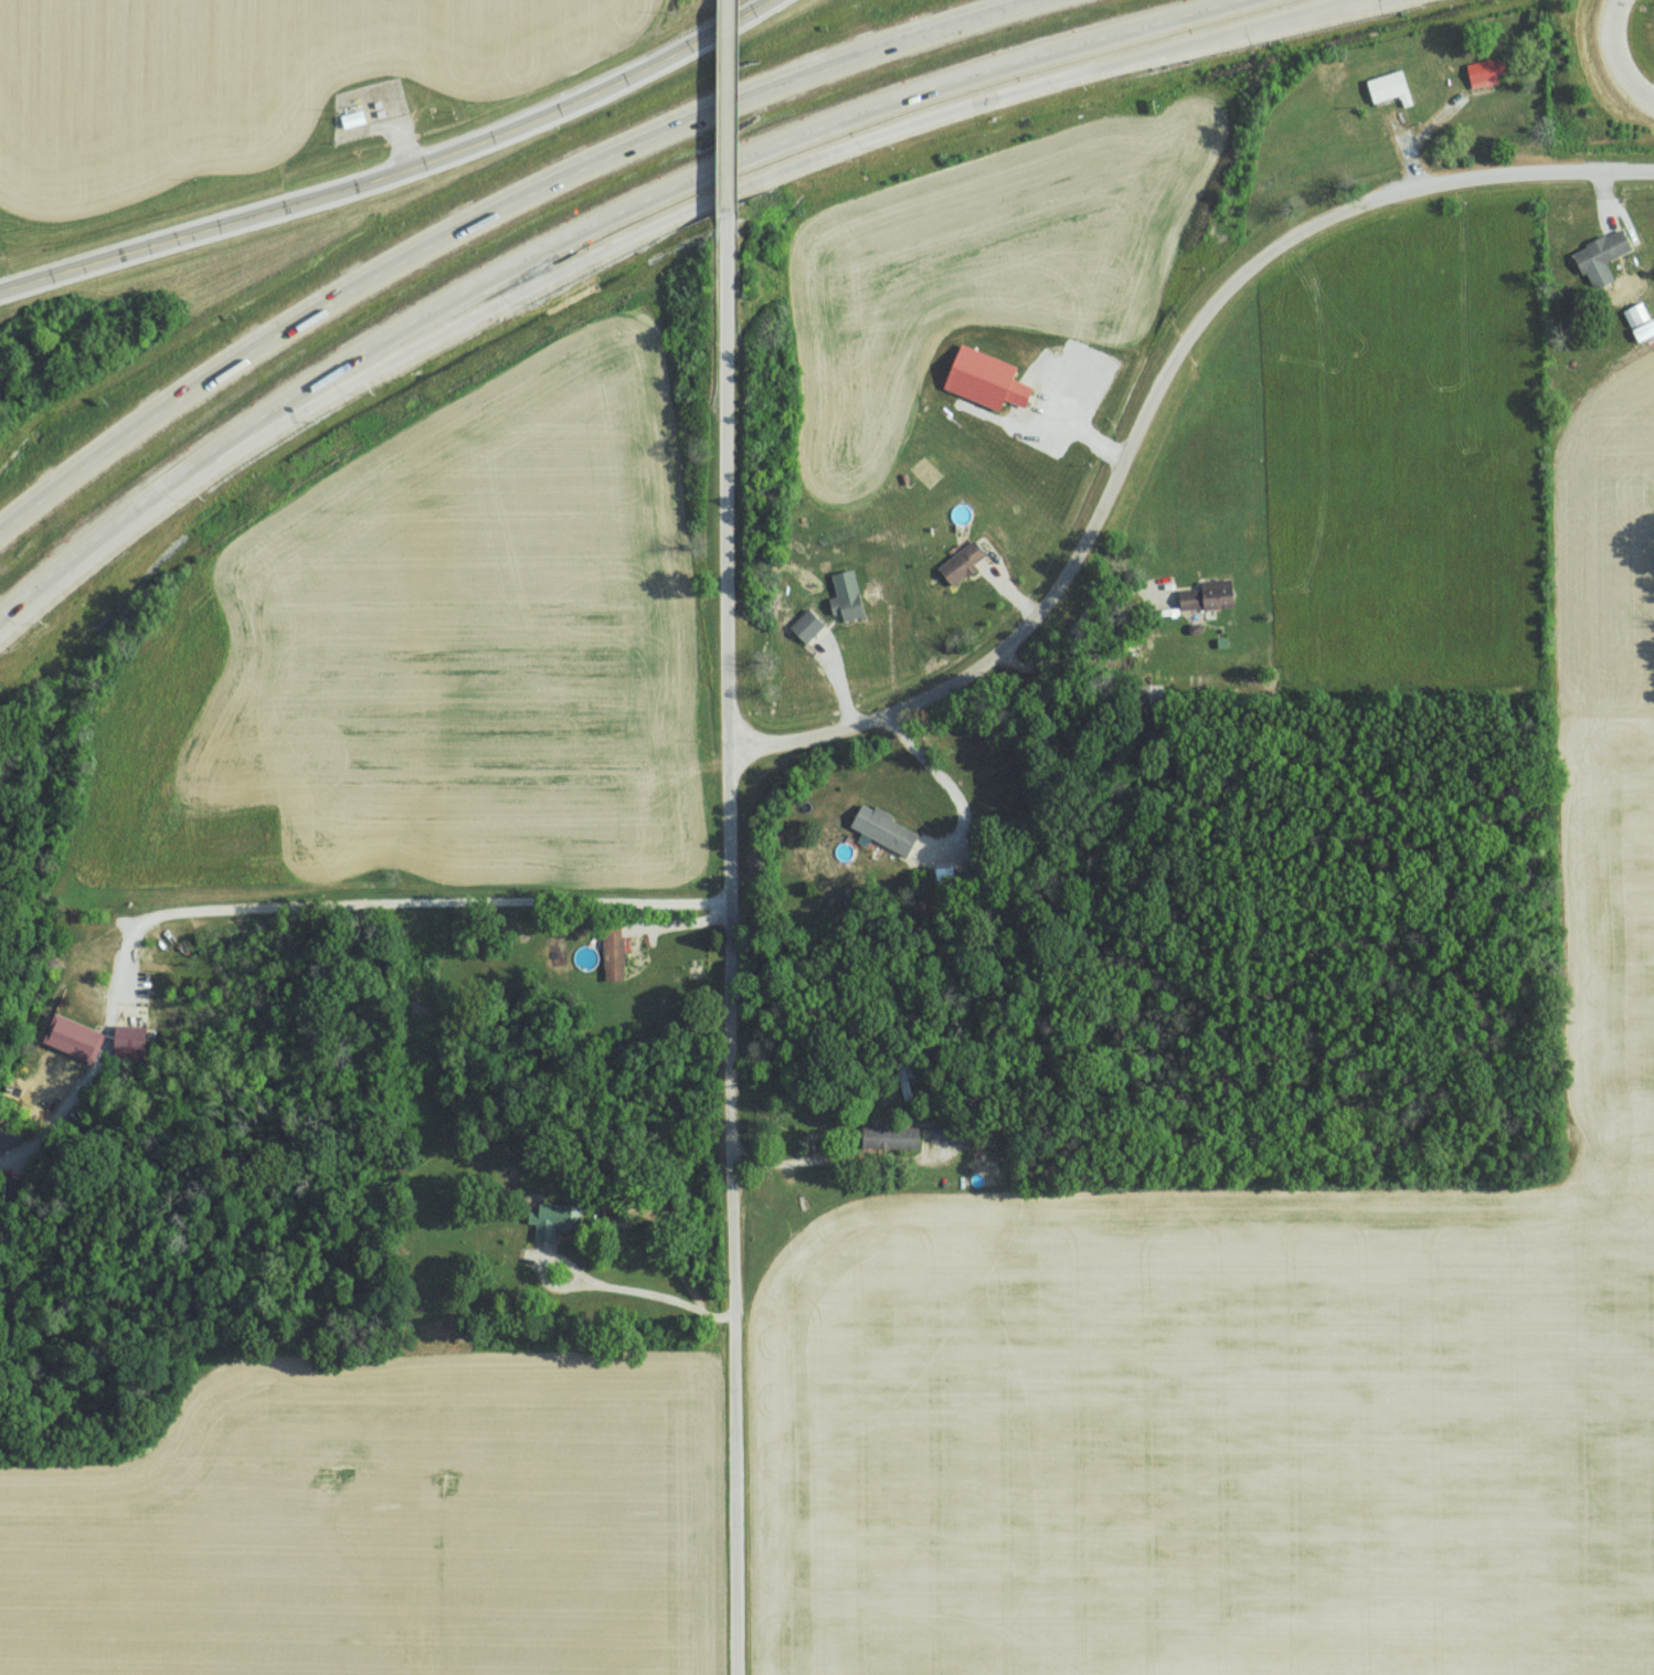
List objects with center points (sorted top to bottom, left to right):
road: (1227, 39)
road: (1616, 60)
building: (1478, 76)
building: (1377, 94)
road: (728, 119)
road: (1605, 172)
road: (396, 176)
road: (692, 206)
road: (489, 211)
road: (577, 227)
building: (1595, 256)
building: (1621, 285)
building: (979, 379)
road: (1133, 445)
road: (1106, 446)
road: (729, 494)
building: (964, 563)
building: (848, 595)
building: (1211, 595)
building: (808, 625)
road: (953, 791)
building: (887, 828)
road: (289, 910)
road: (1049, 936)
building: (615, 953)
building: (891, 1136)
road: (739, 1211)
building: (556, 1219)
road: (486, 1600)

